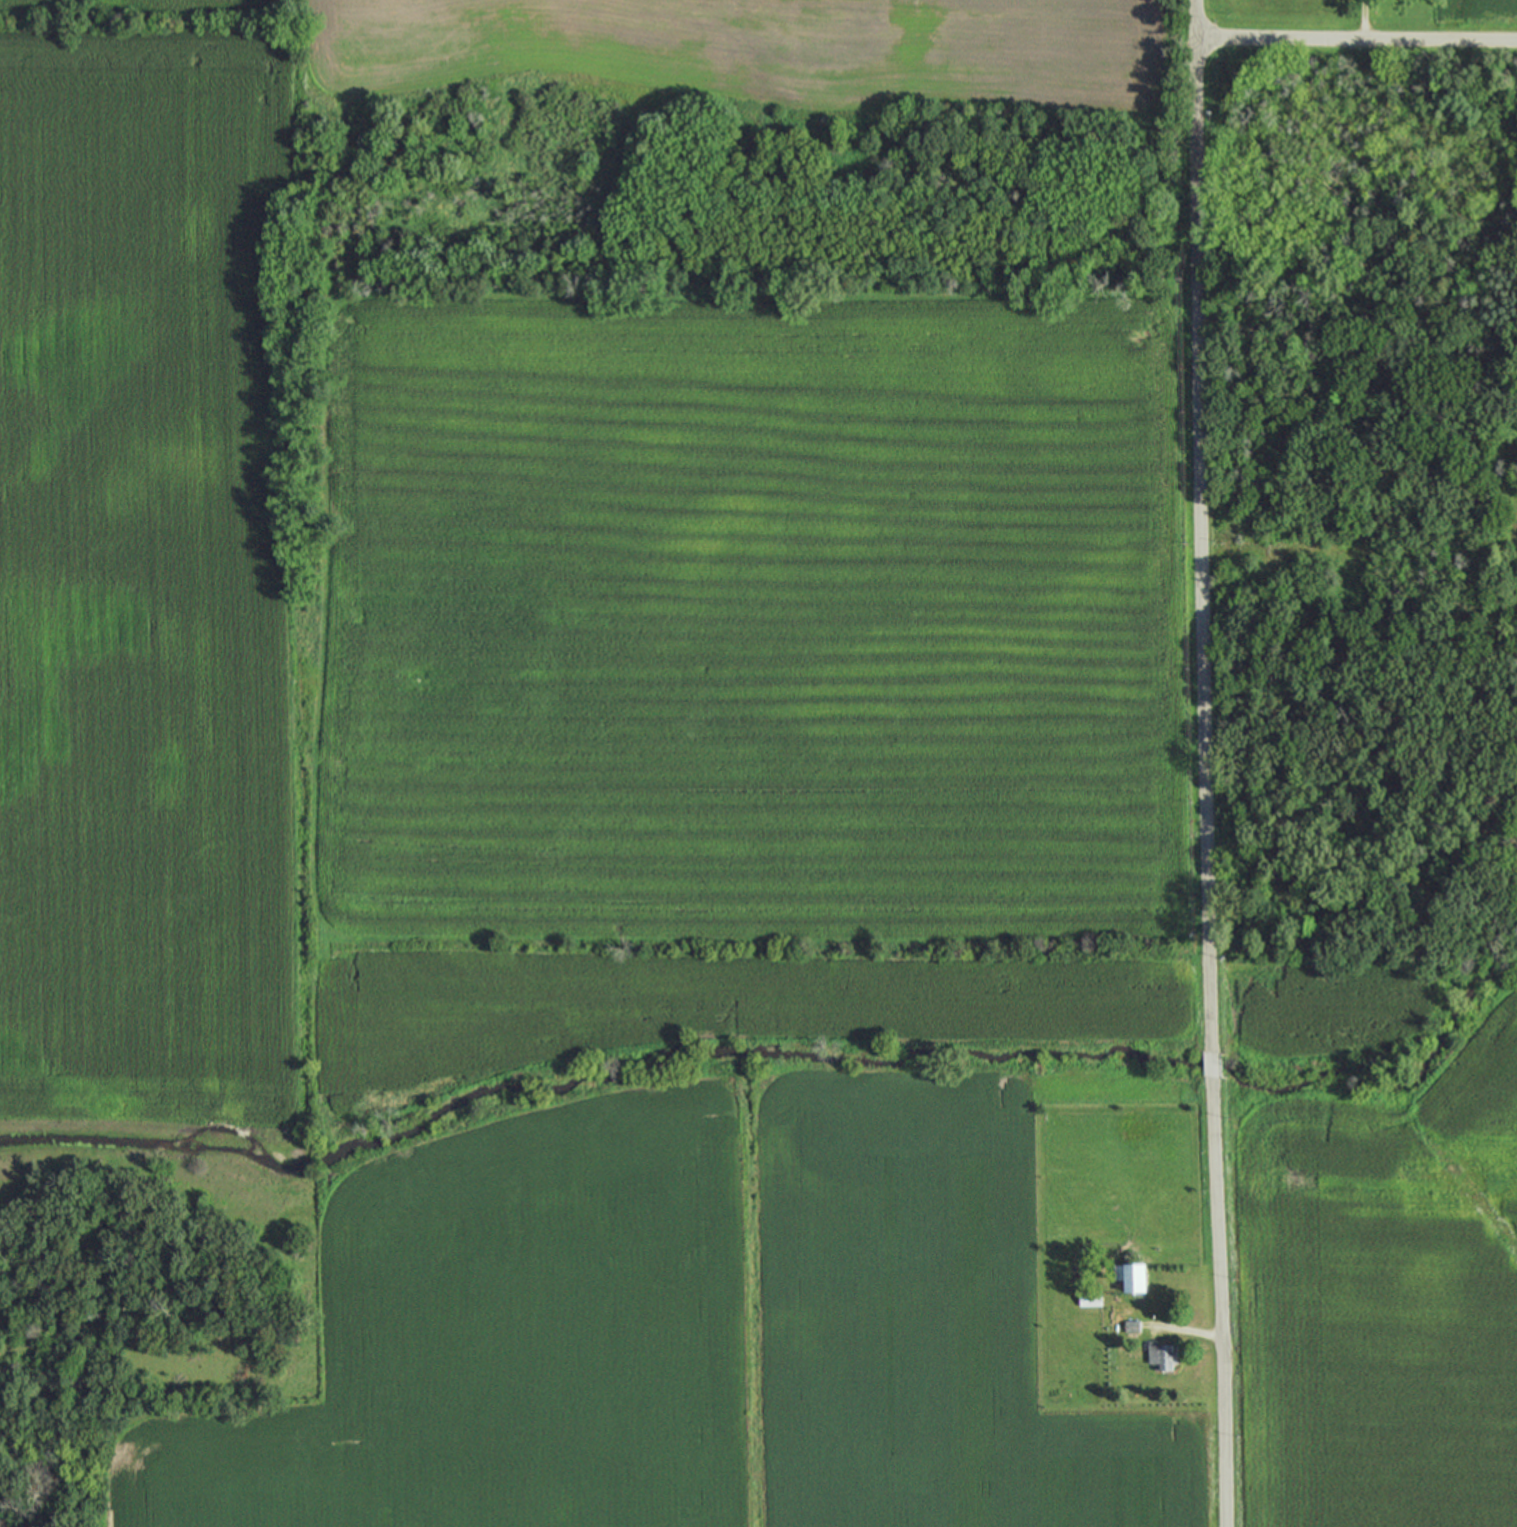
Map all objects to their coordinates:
road: (1362, 19)
road: (1355, 38)
road: (1201, 525)
road: (1211, 1065)
building: (1129, 1277)
building: (1089, 1299)
road: (1220, 1302)
building: (1130, 1326)
road: (1185, 1330)
building: (1160, 1356)

